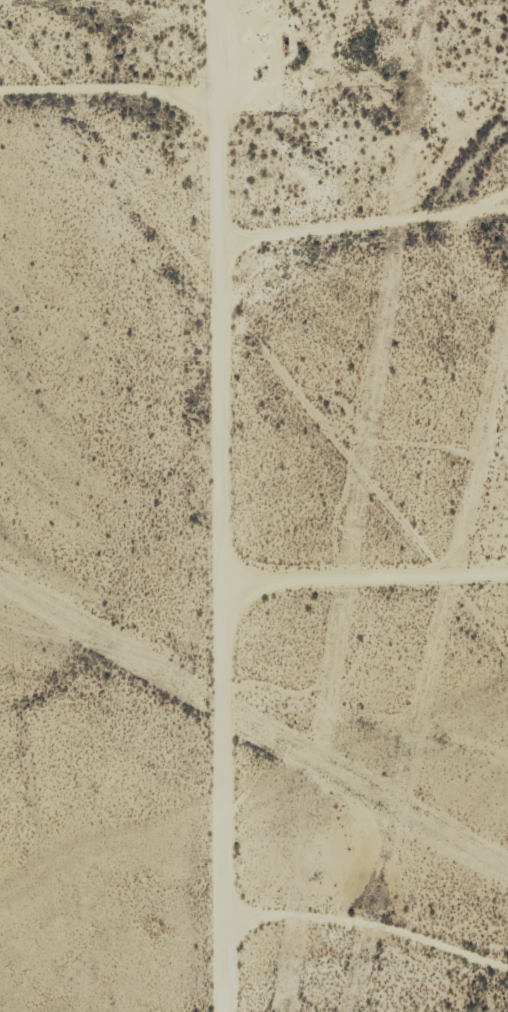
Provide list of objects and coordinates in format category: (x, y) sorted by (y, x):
road: (94, 99)
road: (201, 505)
road: (365, 949)

